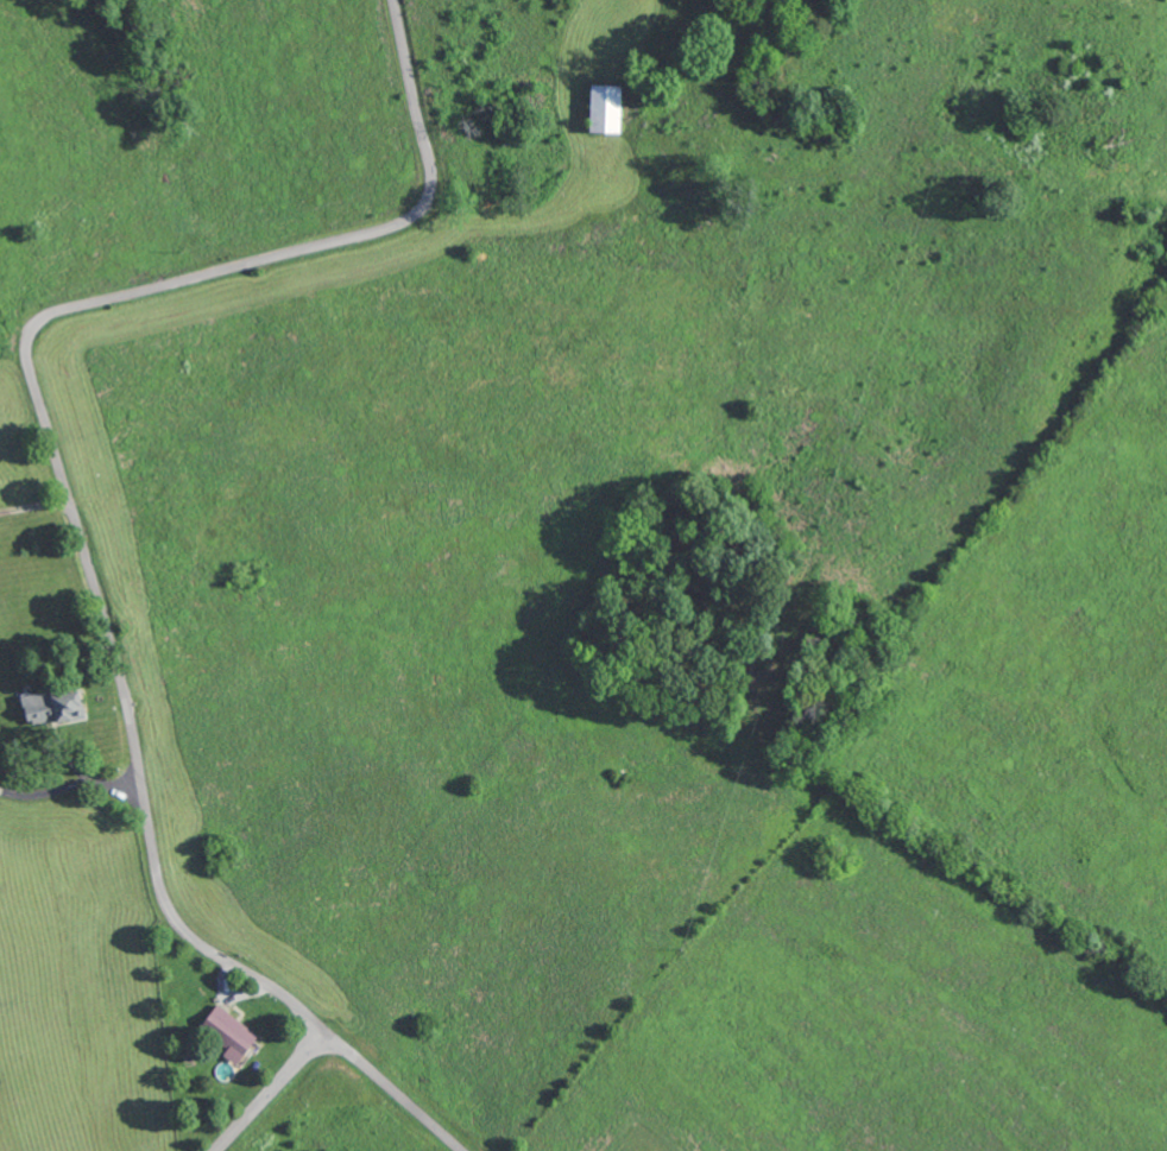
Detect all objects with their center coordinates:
building: (603, 108)
road: (42, 416)
building: (50, 708)
building: (228, 1031)
road: (273, 1092)
road: (397, 1093)

